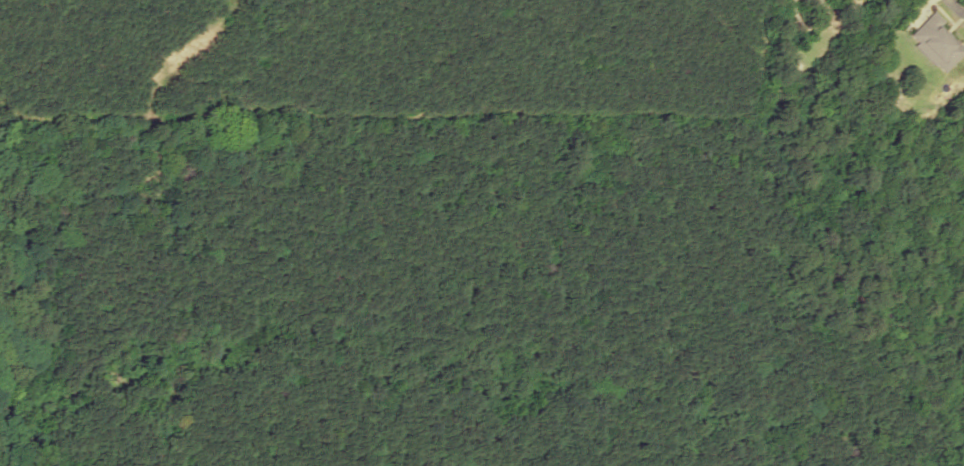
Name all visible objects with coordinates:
building: (933, 42)

